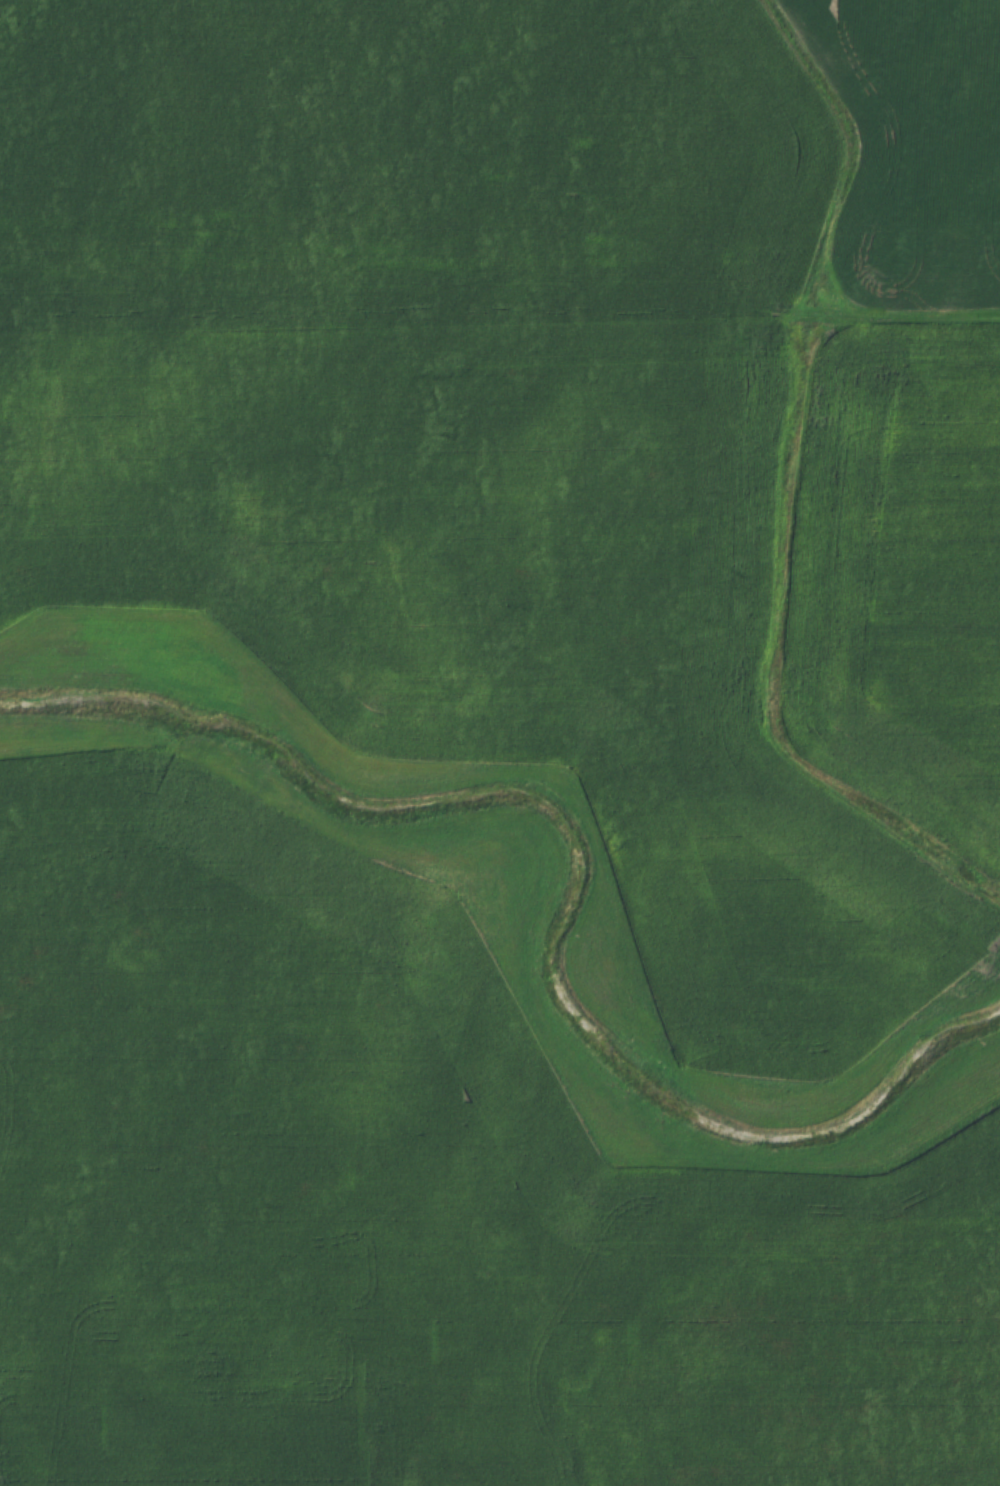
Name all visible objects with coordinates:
road: (499, 312)

